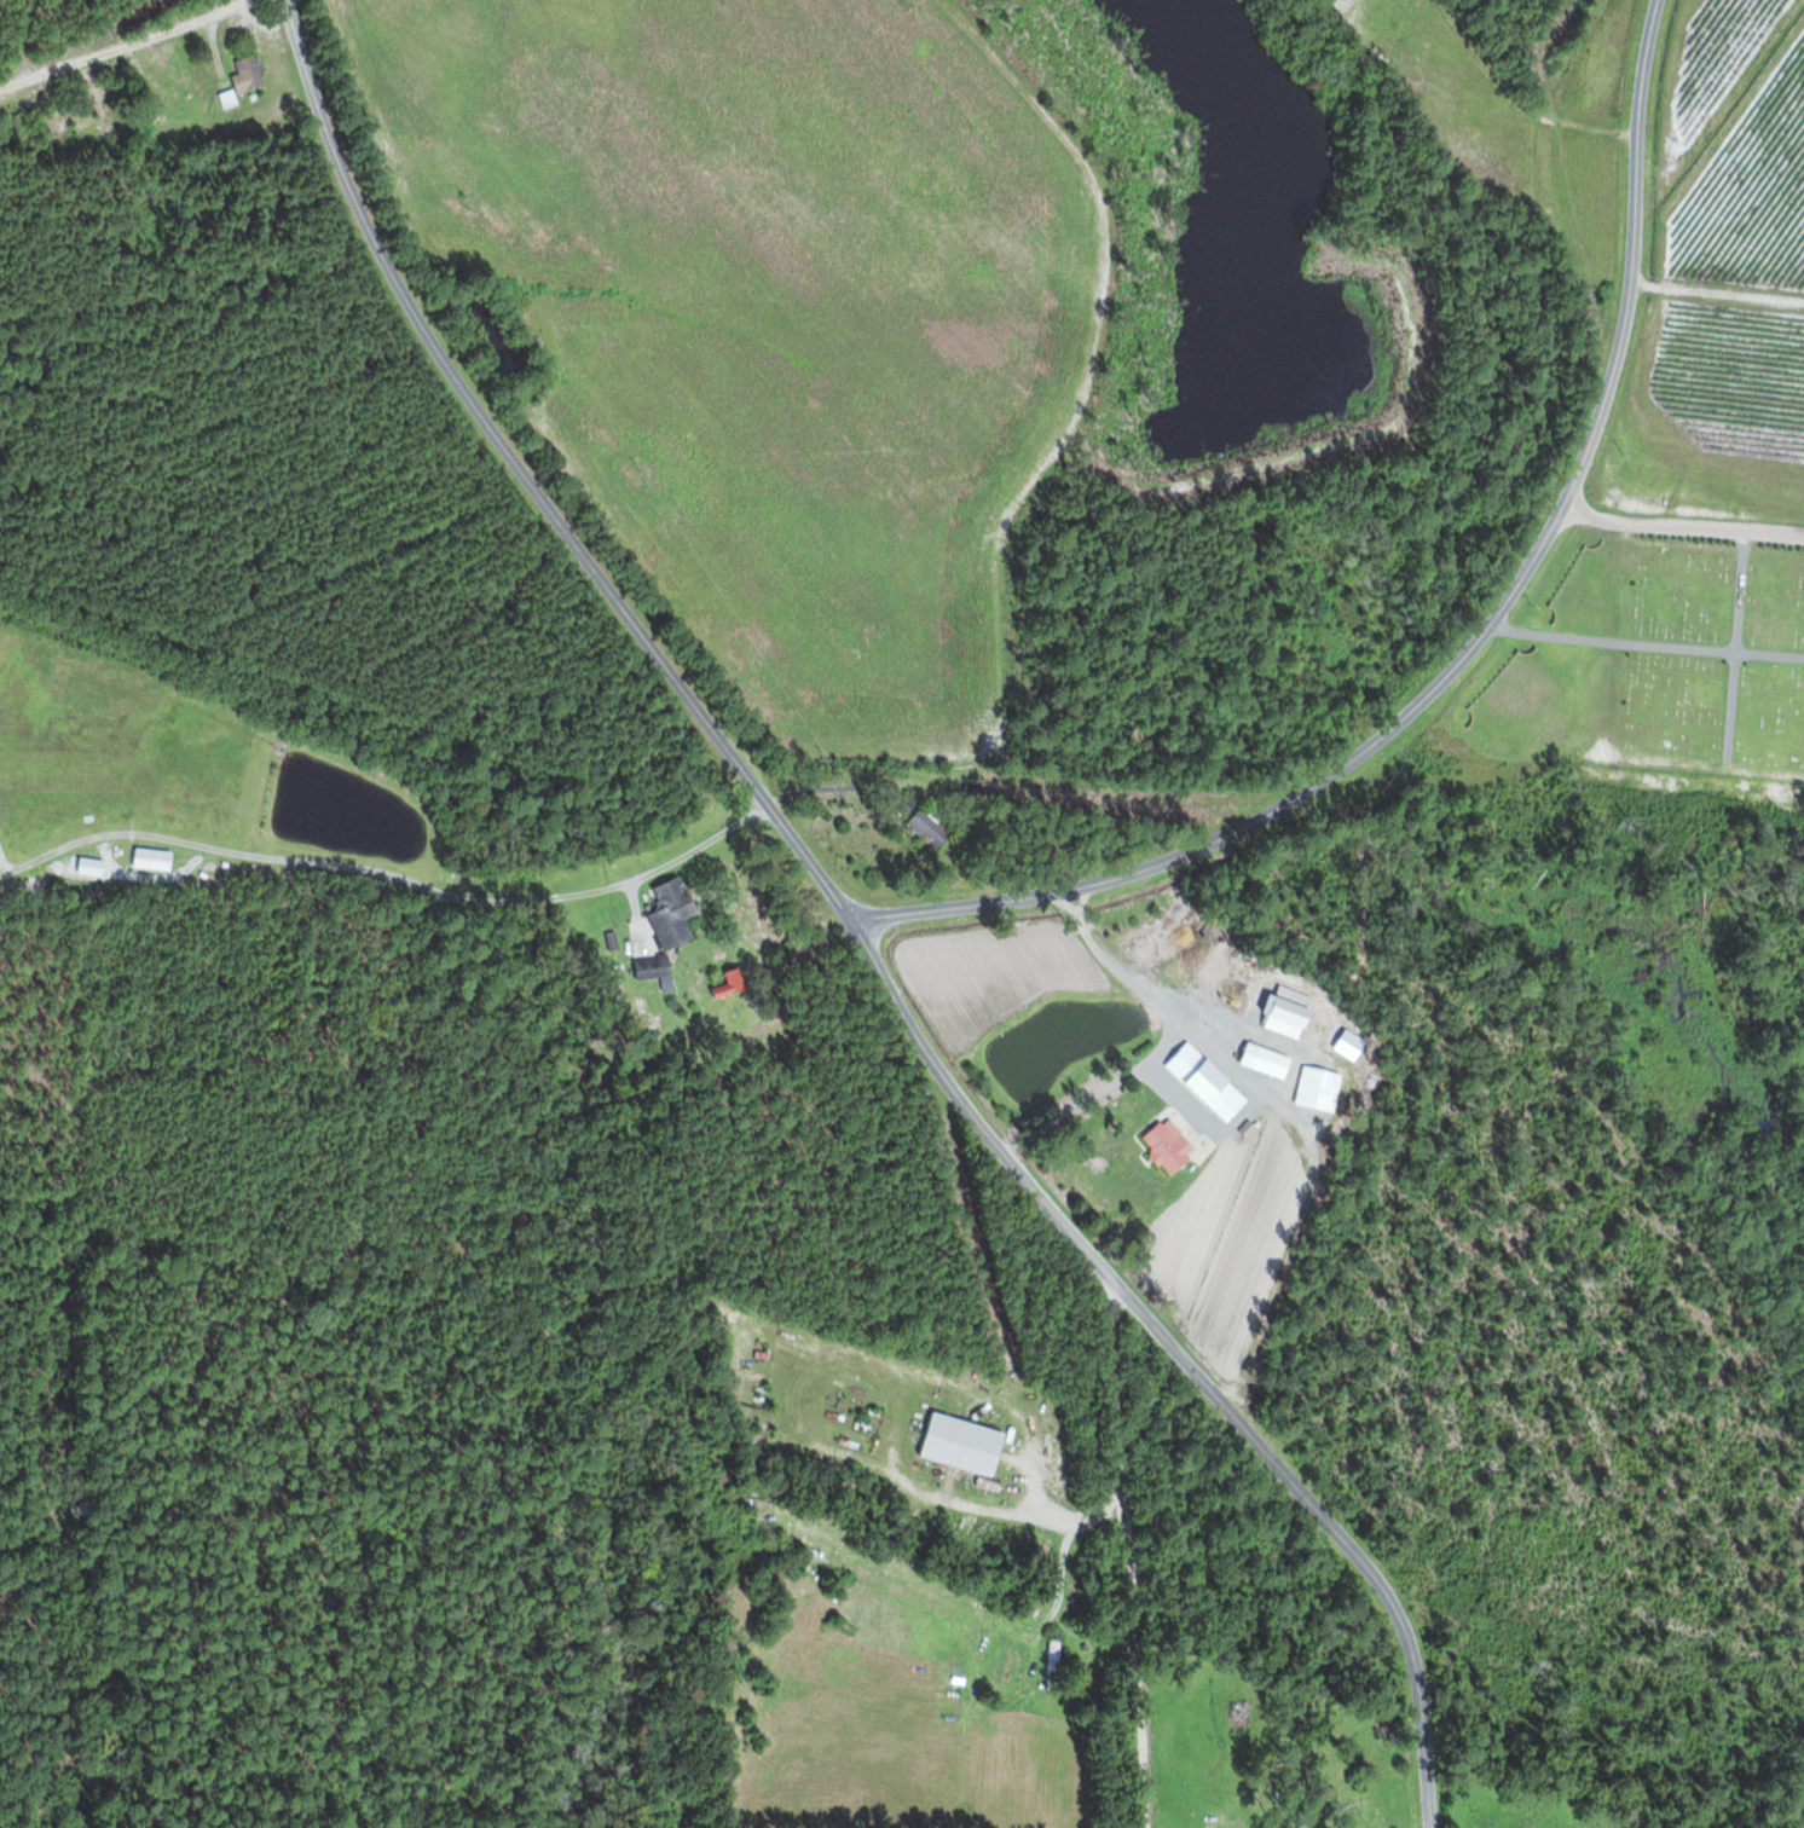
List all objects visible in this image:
building: (249, 75)
building: (229, 98)
road: (1705, 392)
road: (1474, 654)
park: (1652, 669)
building: (904, 805)
building: (930, 827)
road: (393, 877)
building: (673, 913)
road: (858, 930)
building: (734, 982)
building: (1267, 1061)
building: (1208, 1084)
building: (1319, 1089)
building: (1169, 1146)
building: (964, 1445)
road: (1126, 1545)
building: (1053, 1665)

